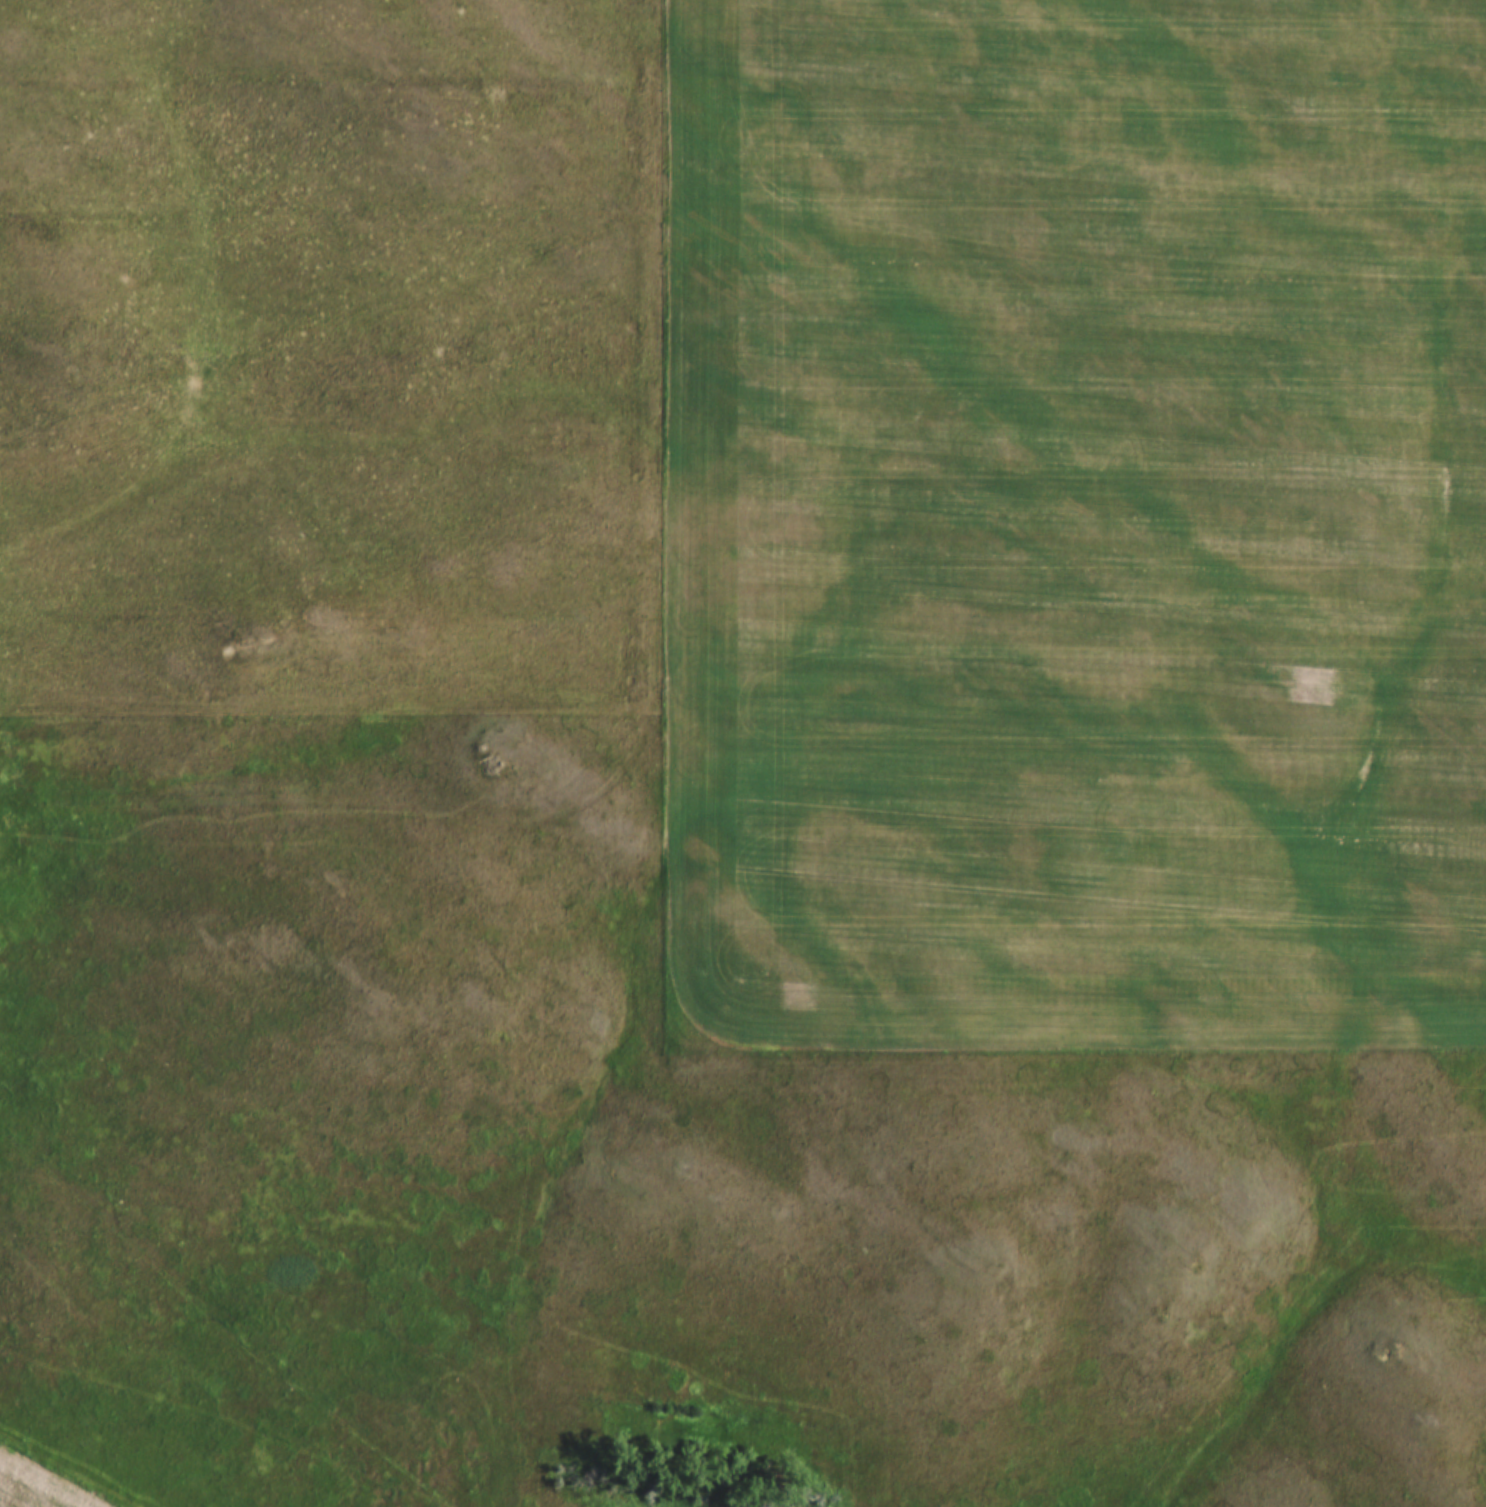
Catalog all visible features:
road: (224, 1320)

